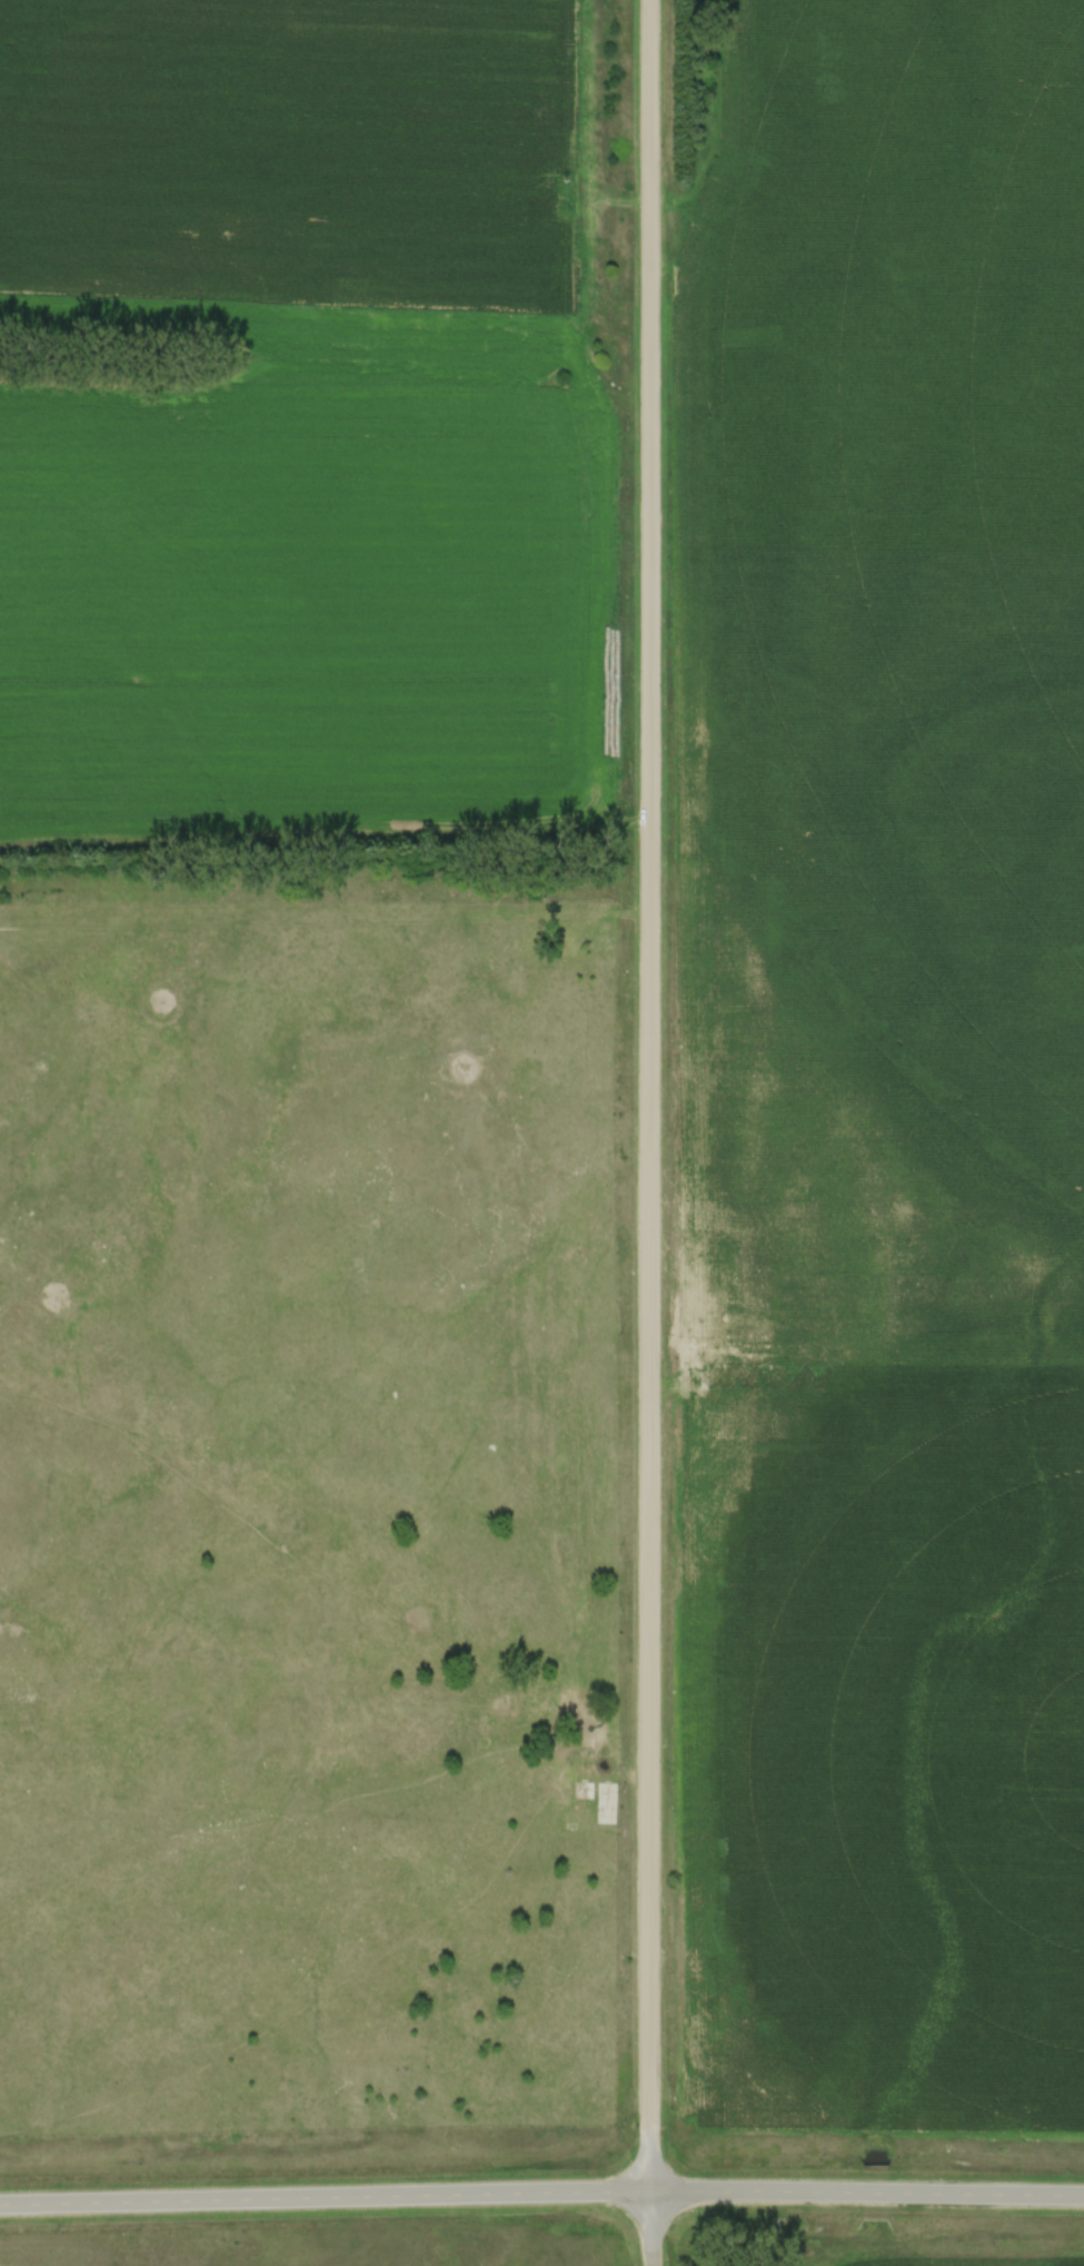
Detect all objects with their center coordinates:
road: (650, 1097)
building: (606, 1745)
building: (584, 1789)
building: (607, 1802)
road: (541, 2194)
road: (652, 2229)

